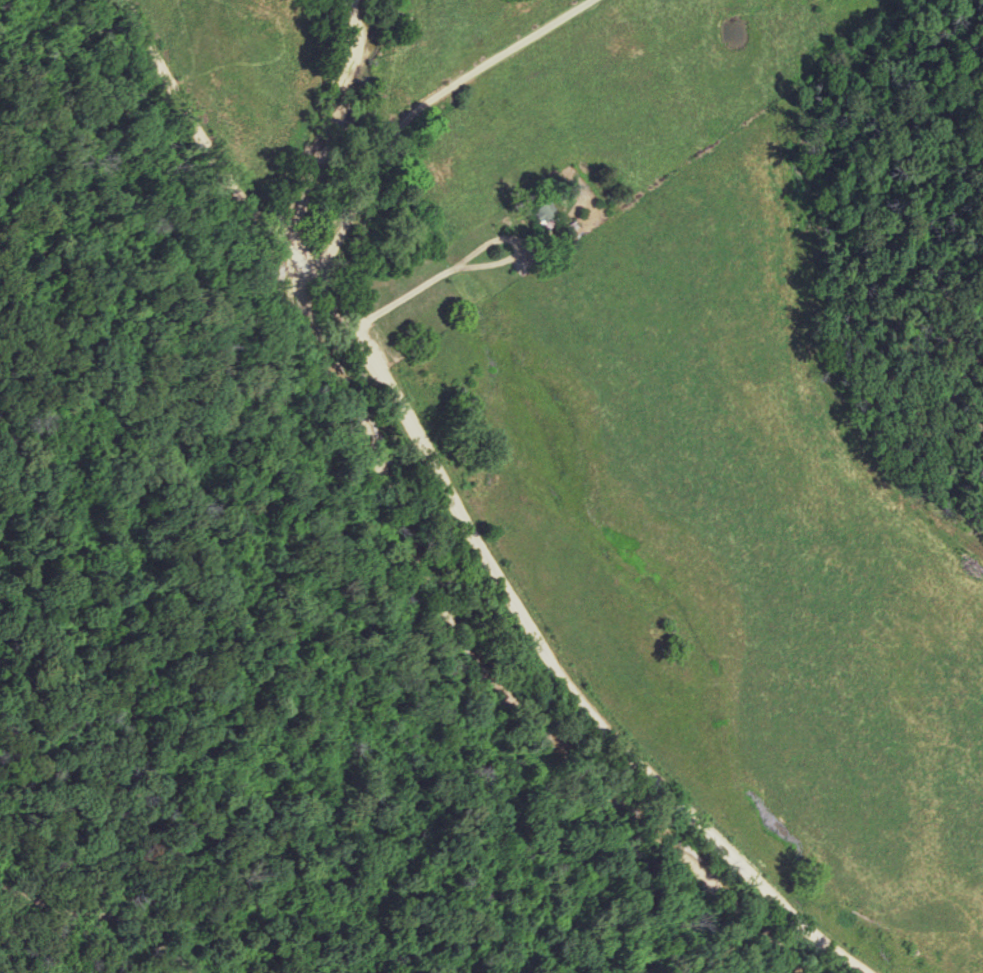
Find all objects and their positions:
road: (416, 106)
building: (543, 213)
road: (488, 242)
road: (462, 517)

